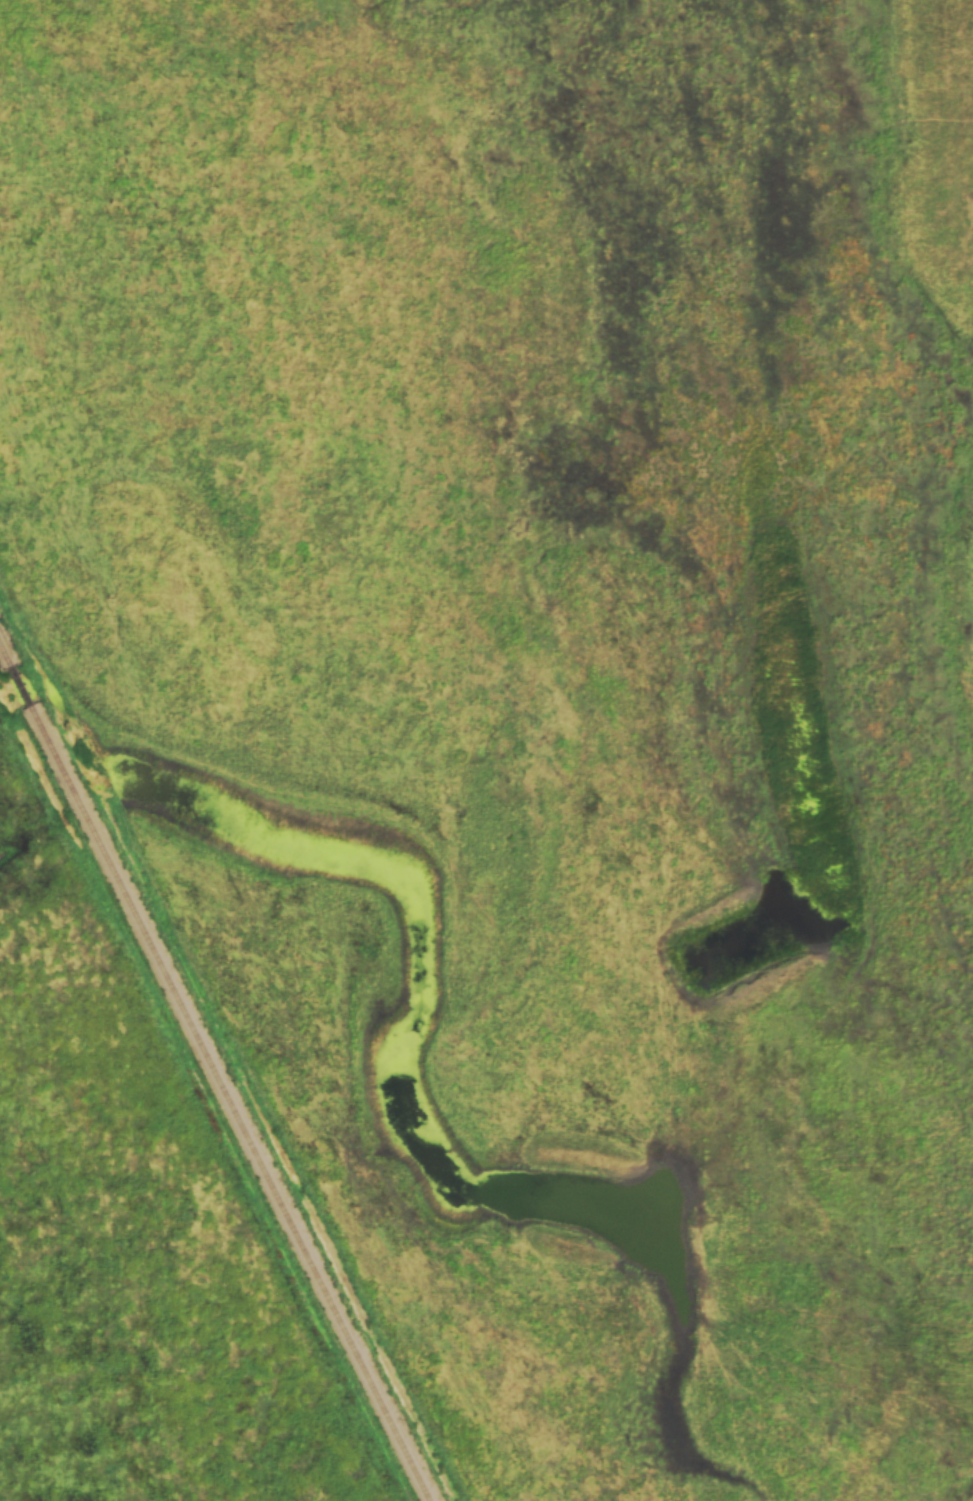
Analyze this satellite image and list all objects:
railway: (5, 653)
railway: (21, 685)
railway: (231, 1103)

